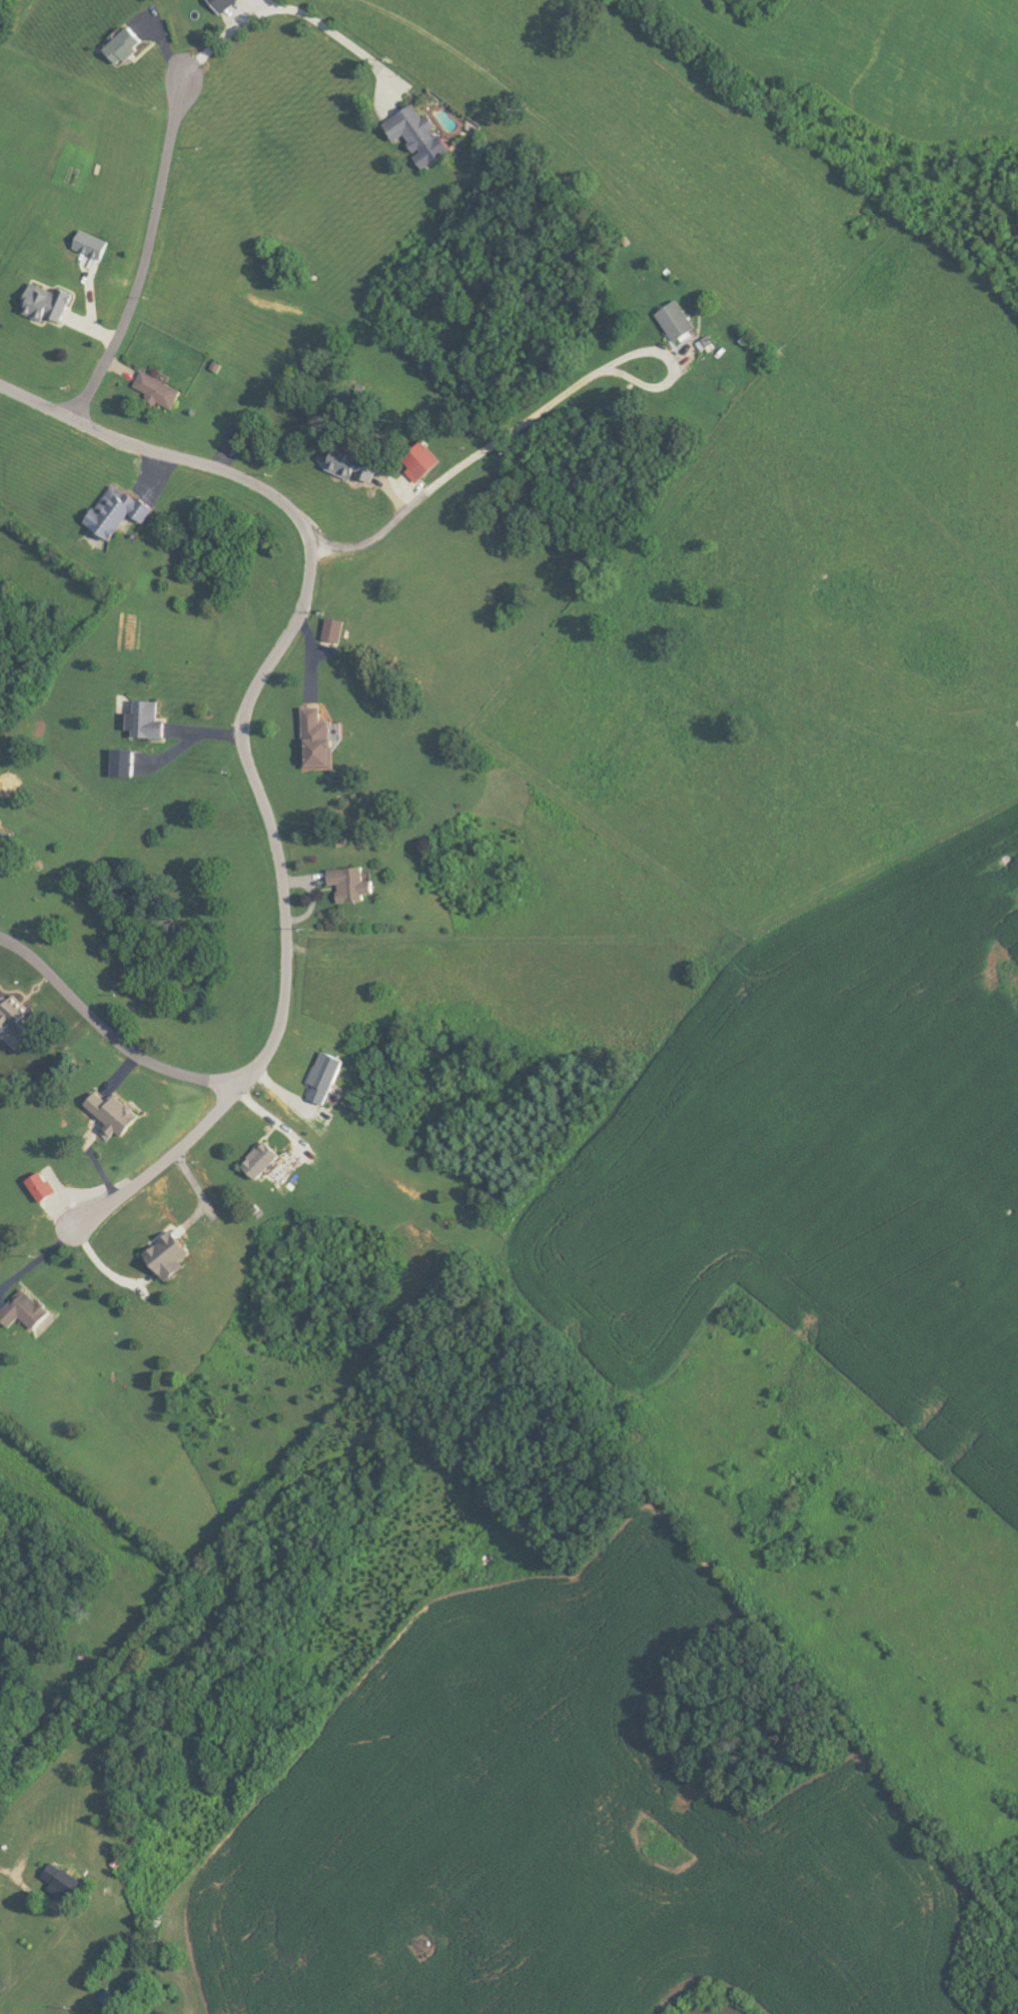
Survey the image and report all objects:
building: (225, 5)
road: (279, 8)
building: (127, 48)
building: (420, 135)
building: (93, 245)
road: (148, 262)
building: (48, 303)
building: (678, 321)
building: (161, 391)
road: (35, 404)
road: (522, 420)
building: (424, 463)
building: (357, 467)
building: (120, 512)
building: (336, 630)
building: (148, 721)
building: (322, 741)
building: (126, 763)
road: (255, 780)
building: (2, 836)
building: (354, 885)
building: (17, 1015)
road: (107, 1031)
building: (328, 1078)
building: (116, 1114)
building: (266, 1162)
building: (44, 1187)
road: (43, 1255)
building: (171, 1257)
road: (106, 1269)
building: (27, 1312)
road: (10, 1876)
building: (63, 1883)

